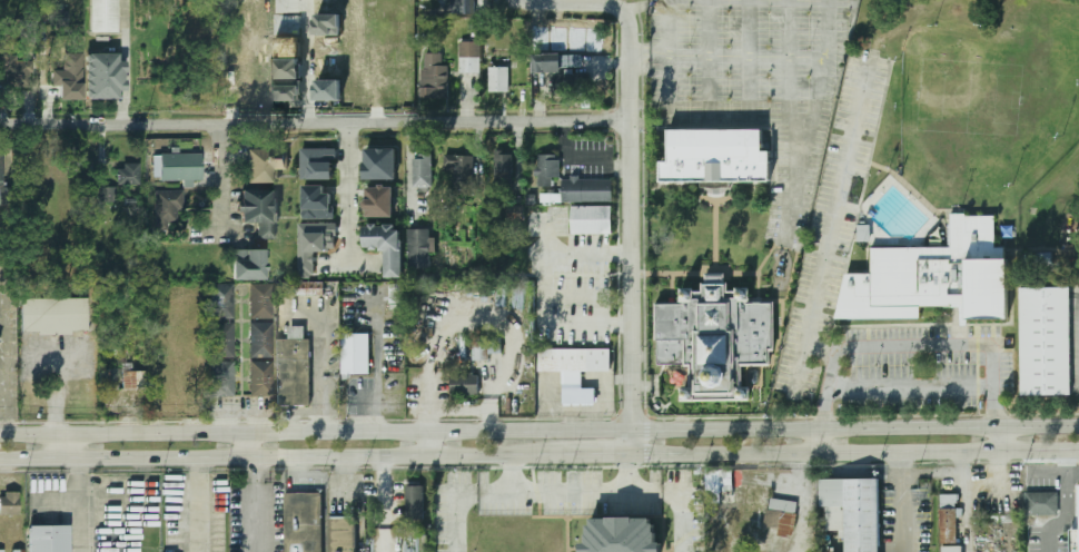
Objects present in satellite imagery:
building: (457, 7)
building: (107, 14)
building: (330, 23)
road: (724, 52)
building: (473, 56)
building: (558, 61)
building: (291, 67)
building: (17, 69)
building: (107, 75)
building: (72, 76)
building: (437, 76)
building: (501, 77)
building: (574, 83)
building: (330, 88)
building: (290, 91)
road: (313, 124)
building: (716, 156)
building: (267, 162)
building: (318, 162)
building: (384, 164)
building: (185, 166)
building: (3, 167)
building: (464, 167)
building: (507, 167)
building: (550, 169)
building: (425, 170)
building: (128, 174)
road: (221, 176)
road: (626, 185)
building: (590, 189)
road: (348, 190)
building: (107, 194)
building: (553, 196)
building: (534, 198)
building: (319, 201)
building: (384, 201)
building: (171, 207)
building: (264, 210)
road: (832, 215)
building: (594, 218)
building: (316, 244)
building: (390, 246)
building: (424, 248)
building: (1039, 258)
building: (253, 264)
building: (931, 277)
building: (397, 293)
building: (265, 299)
building: (225, 300)
building: (53, 315)
road: (325, 326)
building: (709, 337)
building: (225, 338)
building: (265, 339)
building: (1045, 339)
building: (486, 347)
road: (910, 347)
building: (359, 353)
building: (573, 359)
building: (297, 372)
building: (265, 376)
building: (132, 377)
building: (226, 377)
building: (108, 378)
building: (465, 384)
road: (55, 390)
building: (576, 393)
road: (324, 402)
road: (241, 410)
road: (538, 430)
road: (1001, 438)
road: (819, 440)
road: (429, 444)
road: (255, 445)
road: (61, 446)
road: (854, 451)
road: (581, 454)
road: (266, 456)
road: (946, 473)
road: (1072, 474)
building: (729, 483)
road: (386, 490)
road: (573, 490)
road: (657, 500)
road: (484, 501)
road: (804, 501)
road: (905, 501)
building: (415, 502)
building: (9, 503)
building: (1041, 503)
parking lot: (1068, 503)
road: (79, 504)
road: (256, 504)
building: (860, 507)
road: (967, 512)
road: (1068, 516)
building: (771, 517)
building: (949, 519)
building: (303, 521)
building: (341, 534)
building: (626, 534)
building: (48, 539)
road: (385, 539)
building: (1075, 540)
building: (956, 546)
building: (18, 551)

